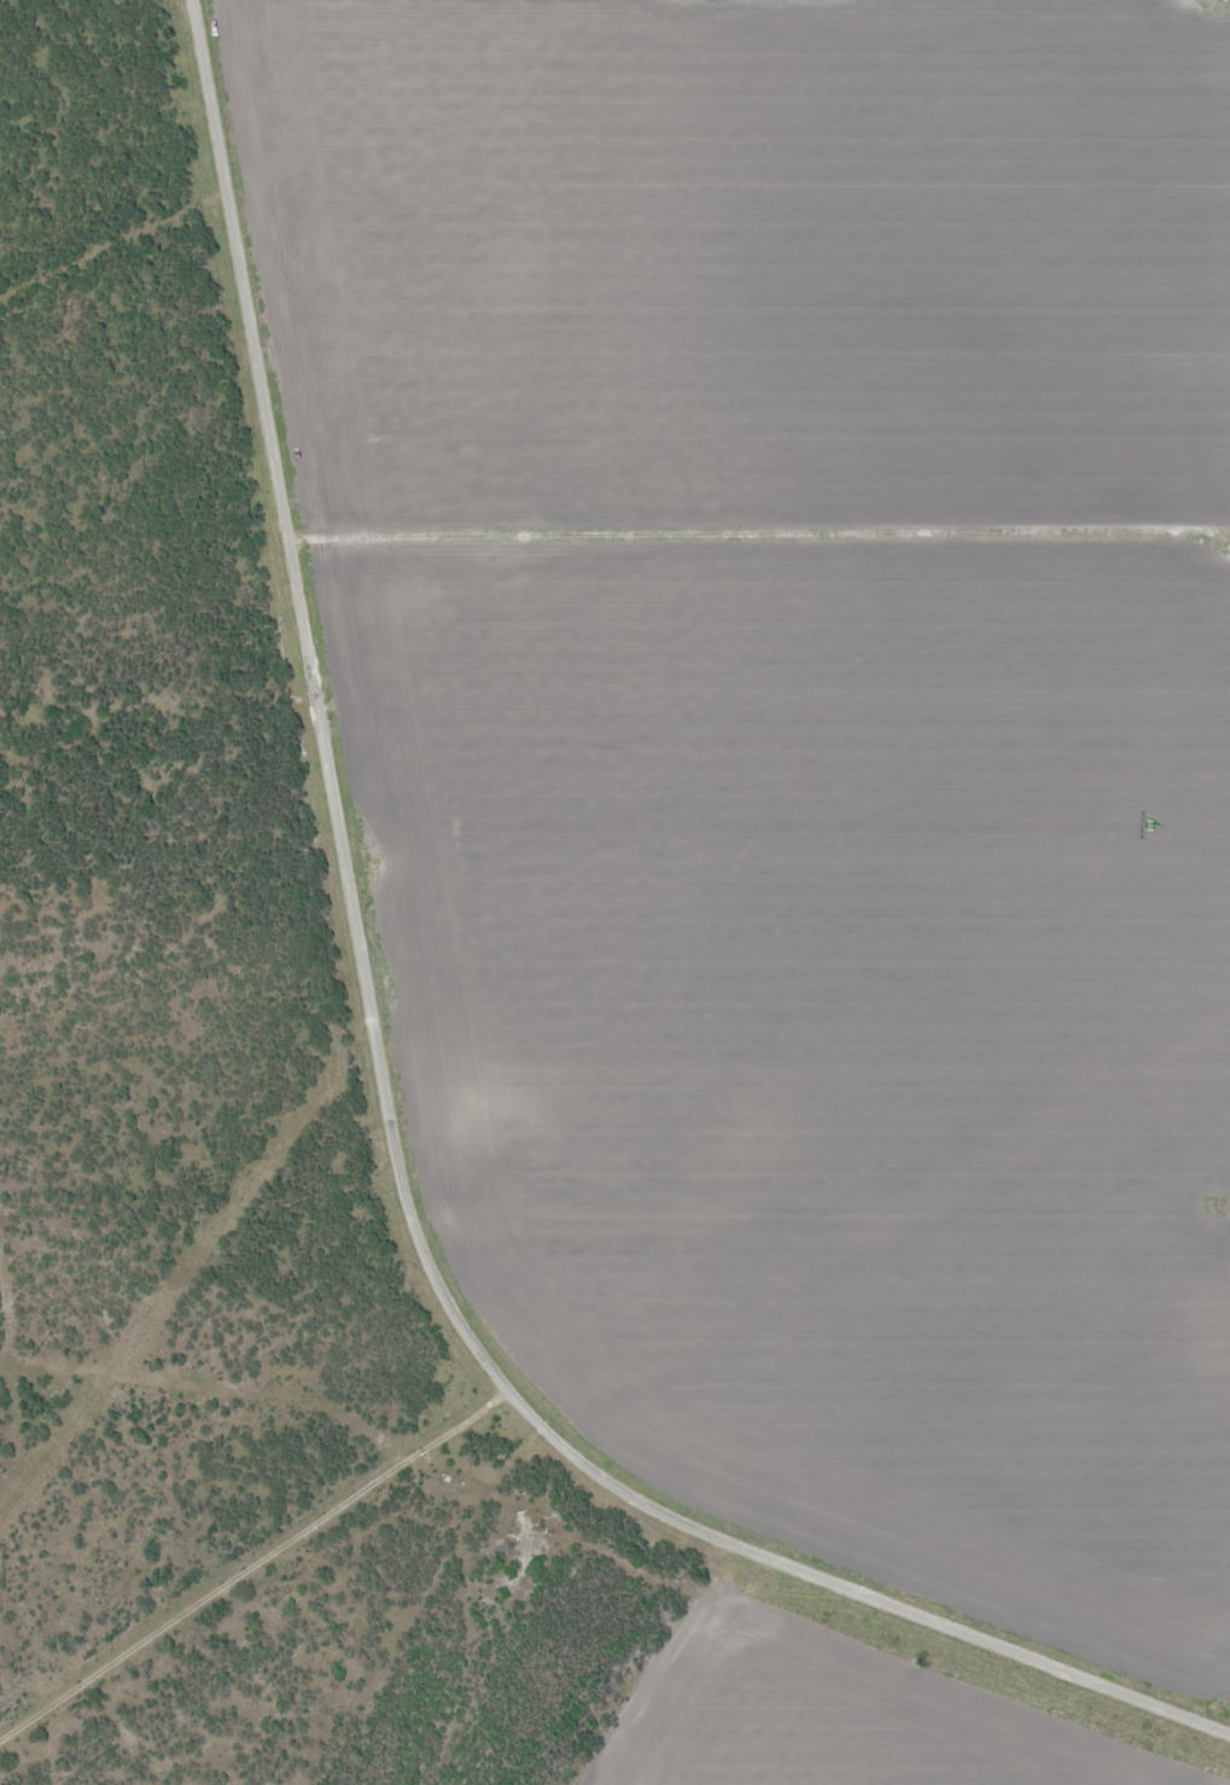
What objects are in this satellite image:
road: (105, 224)
road: (756, 535)
road: (389, 1106)

